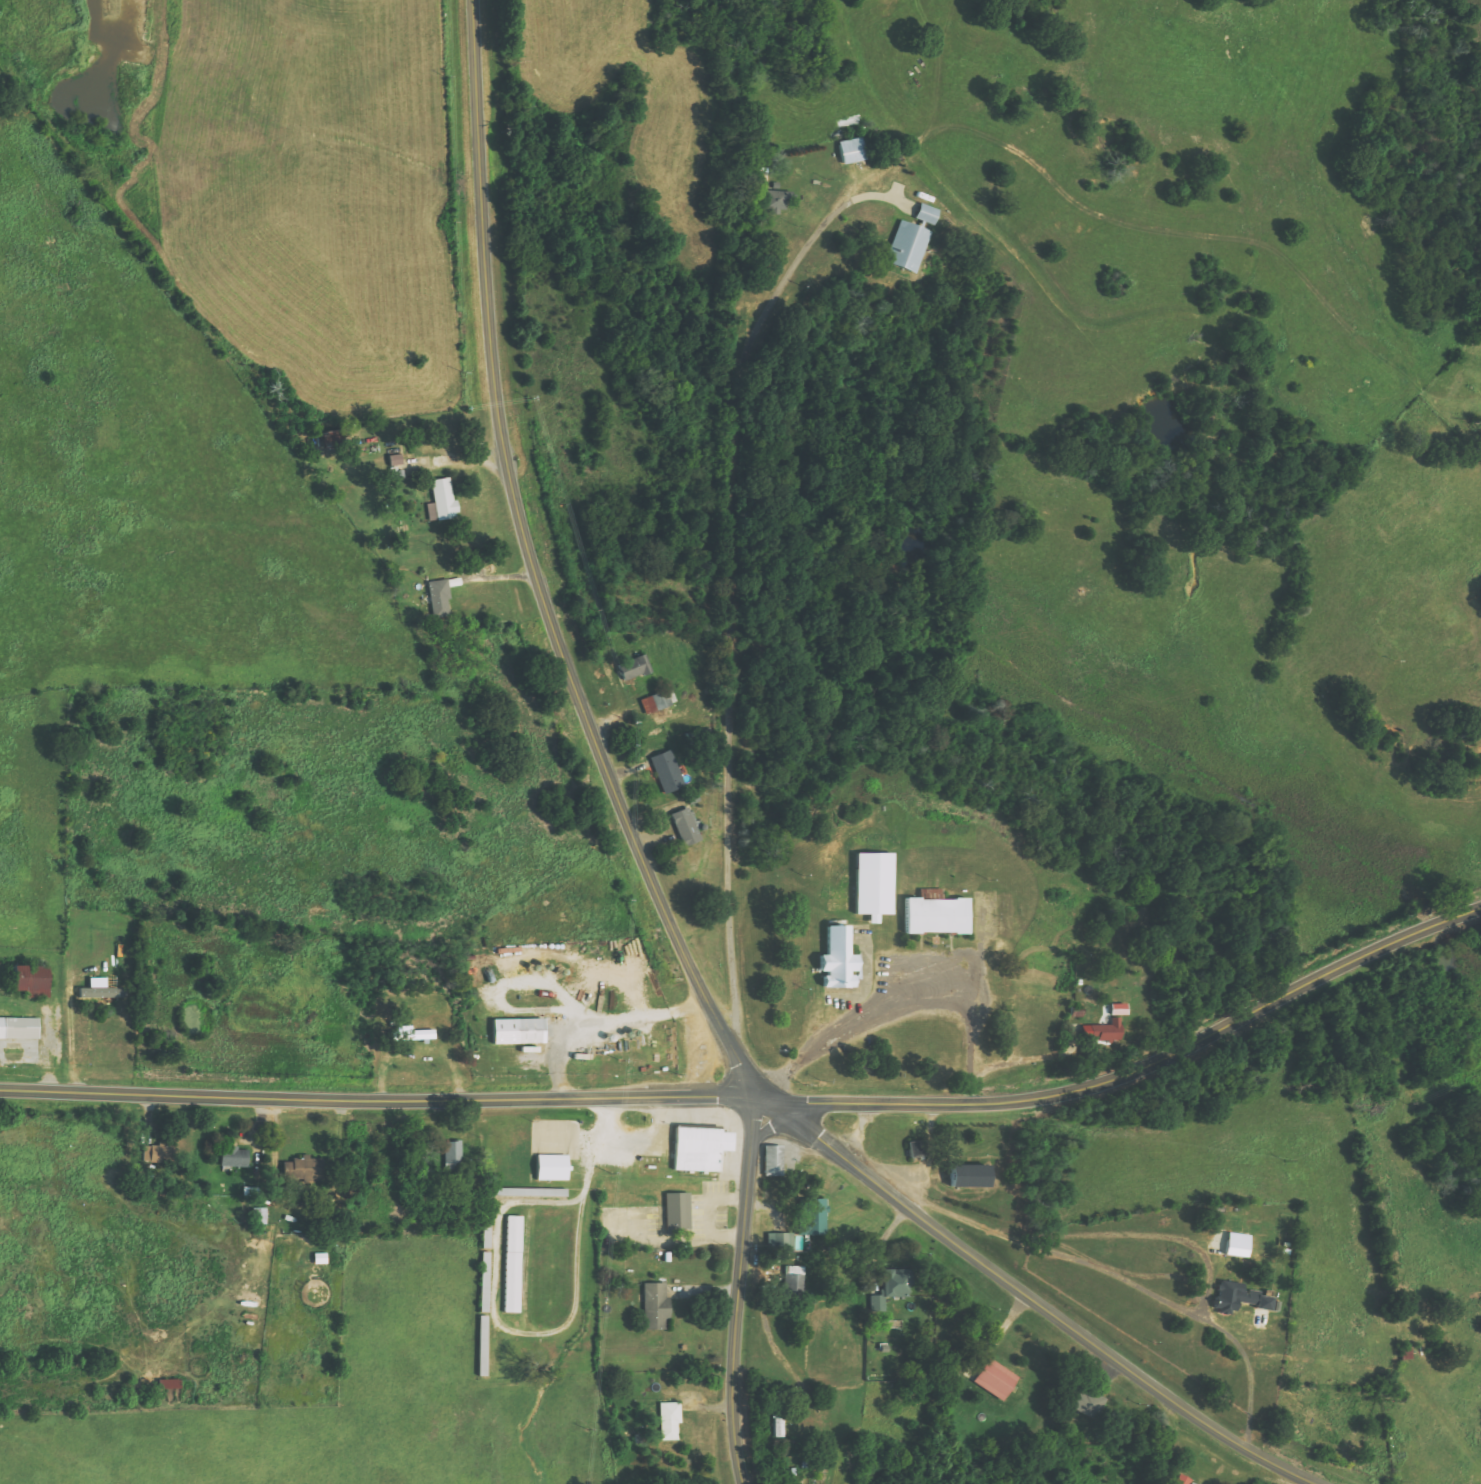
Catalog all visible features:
building: (853, 150)
building: (778, 200)
building: (928, 213)
building: (908, 245)
building: (332, 440)
building: (396, 459)
building: (397, 472)
building: (442, 500)
road: (536, 570)
road: (722, 582)
building: (440, 598)
building: (635, 667)
building: (659, 701)
building: (668, 771)
building: (686, 827)
building: (875, 884)
building: (938, 916)
building: (840, 960)
building: (32, 981)
building: (1119, 1009)
building: (19, 1028)
building: (519, 1031)
building: (1103, 1031)
building: (419, 1035)
road: (1136, 1073)
road: (380, 1094)
building: (701, 1148)
building: (918, 1149)
building: (453, 1152)
building: (159, 1154)
building: (234, 1157)
building: (774, 1161)
building: (553, 1167)
building: (304, 1168)
building: (971, 1176)
building: (544, 1193)
building: (678, 1211)
building: (813, 1217)
building: (781, 1241)
building: (1238, 1245)
building: (514, 1264)
building: (794, 1282)
building: (893, 1287)
road: (740, 1292)
building: (1240, 1297)
road: (1033, 1299)
building: (656, 1306)
building: (996, 1380)
building: (171, 1384)
building: (1088, 1403)
building: (670, 1421)
building: (775, 1429)
building: (1183, 1480)
building: (1192, 1483)

